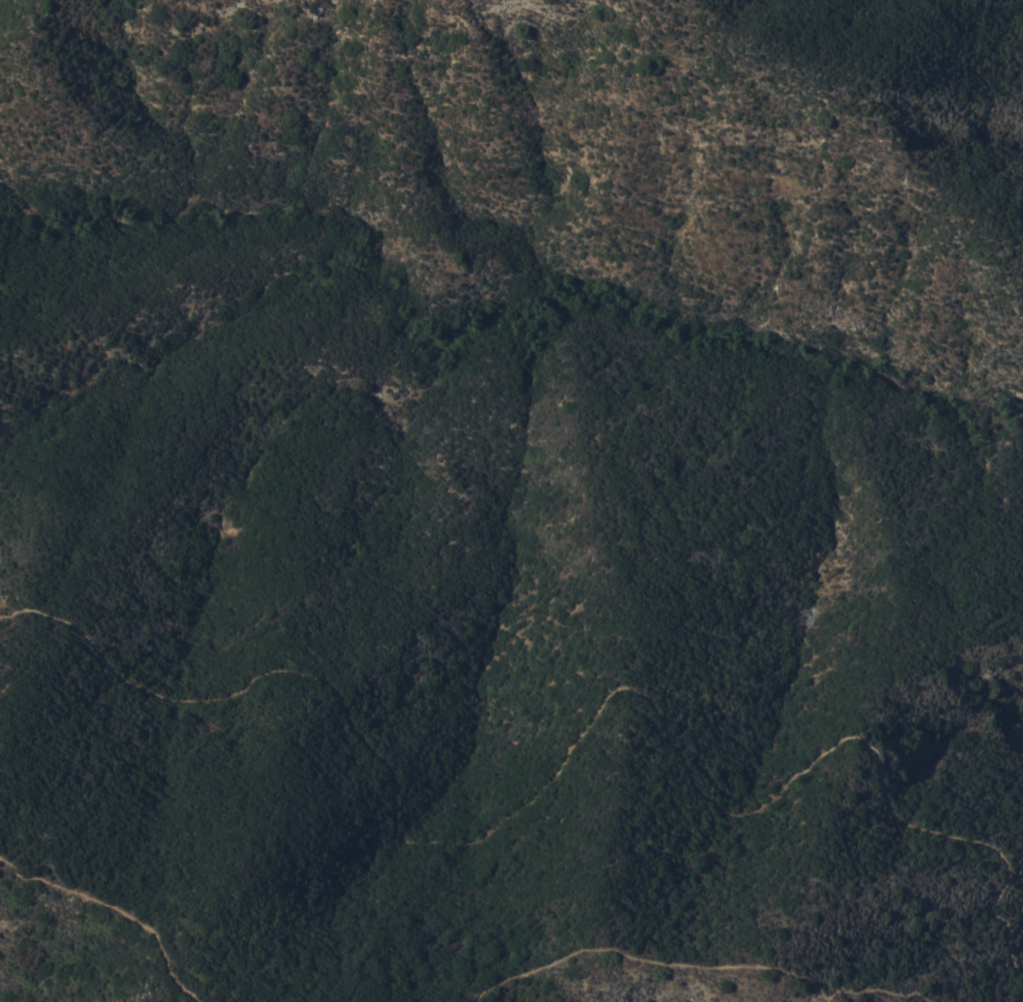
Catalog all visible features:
road: (561, 750)
road: (114, 907)
road: (702, 966)

